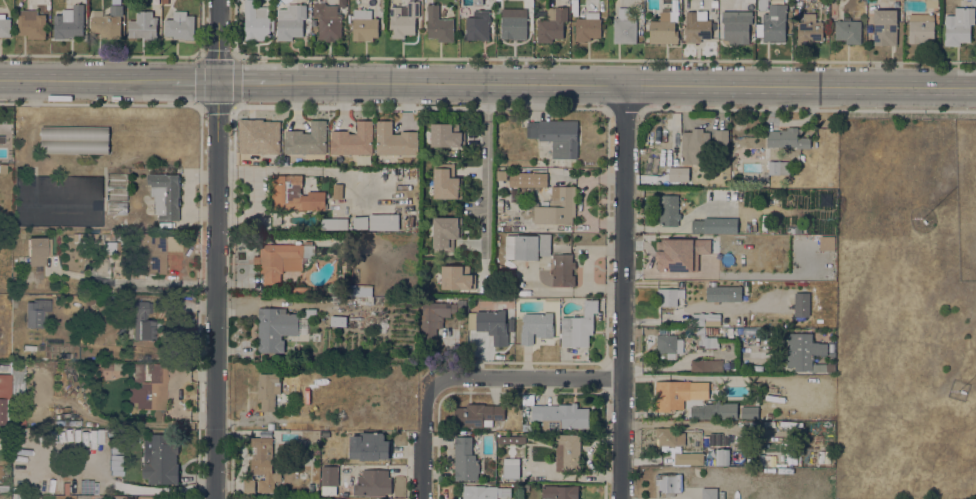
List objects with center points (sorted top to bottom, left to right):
building: (563, 0)
building: (787, 0)
building: (714, 2)
building: (931, 3)
building: (763, 5)
building: (833, 9)
building: (796, 12)
building: (809, 17)
building: (403, 19)
building: (256, 20)
building: (291, 21)
building: (328, 21)
building: (69, 22)
building: (774, 22)
building: (31, 23)
building: (108, 23)
building: (438, 24)
building: (552, 24)
building: (5, 25)
building: (143, 25)
building: (180, 25)
building: (364, 25)
building: (478, 25)
building: (736, 25)
building: (958, 25)
building: (514, 26)
building: (588, 26)
building: (624, 26)
building: (698, 26)
building: (885, 26)
building: (921, 28)
building: (663, 29)
building: (847, 30)
building: (809, 32)
road: (126, 55)
road: (200, 55)
road: (85, 80)
road: (193, 80)
traffic signals: (217, 80)
road: (242, 81)
road: (621, 83)
road: (93, 104)
road: (232, 105)
road: (234, 106)
road: (196, 107)
road: (199, 107)
road: (538, 107)
road: (623, 109)
road: (804, 109)
building: (446, 135)
building: (556, 135)
building: (258, 136)
building: (721, 137)
building: (786, 138)
building: (75, 139)
building: (307, 139)
building: (353, 139)
building: (394, 140)
building: (695, 146)
building: (8, 158)
building: (778, 167)
building: (2, 168)
building: (501, 174)
building: (686, 175)
building: (116, 179)
building: (527, 179)
building: (446, 181)
road: (484, 184)
building: (337, 190)
building: (116, 193)
building: (294, 194)
building: (165, 195)
building: (69, 200)
building: (555, 206)
building: (116, 207)
building: (668, 210)
building: (276, 218)
building: (259, 221)
building: (382, 221)
building: (360, 222)
building: (334, 223)
building: (714, 225)
building: (791, 229)
building: (445, 233)
building: (106, 236)
building: (77, 237)
building: (91, 237)
building: (172, 244)
building: (700, 245)
building: (527, 246)
building: (113, 247)
building: (38, 249)
road: (215, 249)
building: (148, 251)
building: (345, 253)
building: (668, 253)
building: (280, 261)
road: (588, 268)
building: (563, 270)
building: (698, 272)
building: (457, 277)
building: (299, 289)
building: (358, 290)
road: (623, 291)
building: (727, 293)
building: (667, 296)
building: (369, 299)
building: (15, 300)
road: (199, 307)
building: (36, 312)
building: (310, 312)
building: (438, 315)
building: (703, 319)
building: (338, 320)
building: (145, 322)
building: (491, 323)
building: (536, 326)
building: (578, 326)
building: (275, 327)
building: (120, 329)
building: (730, 332)
building: (707, 339)
building: (669, 344)
building: (29, 347)
building: (831, 347)
building: (805, 352)
building: (146, 357)
building: (706, 365)
building: (105, 366)
road: (607, 377)
road: (559, 378)
building: (18, 379)
building: (150, 388)
building: (268, 390)
road: (522, 392)
building: (671, 394)
building: (285, 403)
road: (428, 408)
building: (1, 410)
building: (527, 410)
building: (714, 410)
building: (749, 412)
building: (477, 414)
building: (769, 414)
building: (561, 415)
building: (18, 418)
building: (67, 422)
building: (270, 425)
building: (266, 432)
building: (102, 436)
building: (669, 436)
building: (511, 439)
building: (369, 446)
building: (568, 452)
building: (722, 456)
building: (688, 458)
building: (159, 459)
road: (231, 459)
building: (465, 459)
building: (263, 462)
road: (407, 465)
building: (511, 468)
building: (329, 475)
building: (372, 482)
building: (669, 483)
building: (248, 486)
building: (3, 488)
building: (559, 491)
building: (485, 492)
building: (709, 493)
building: (336, 498)

